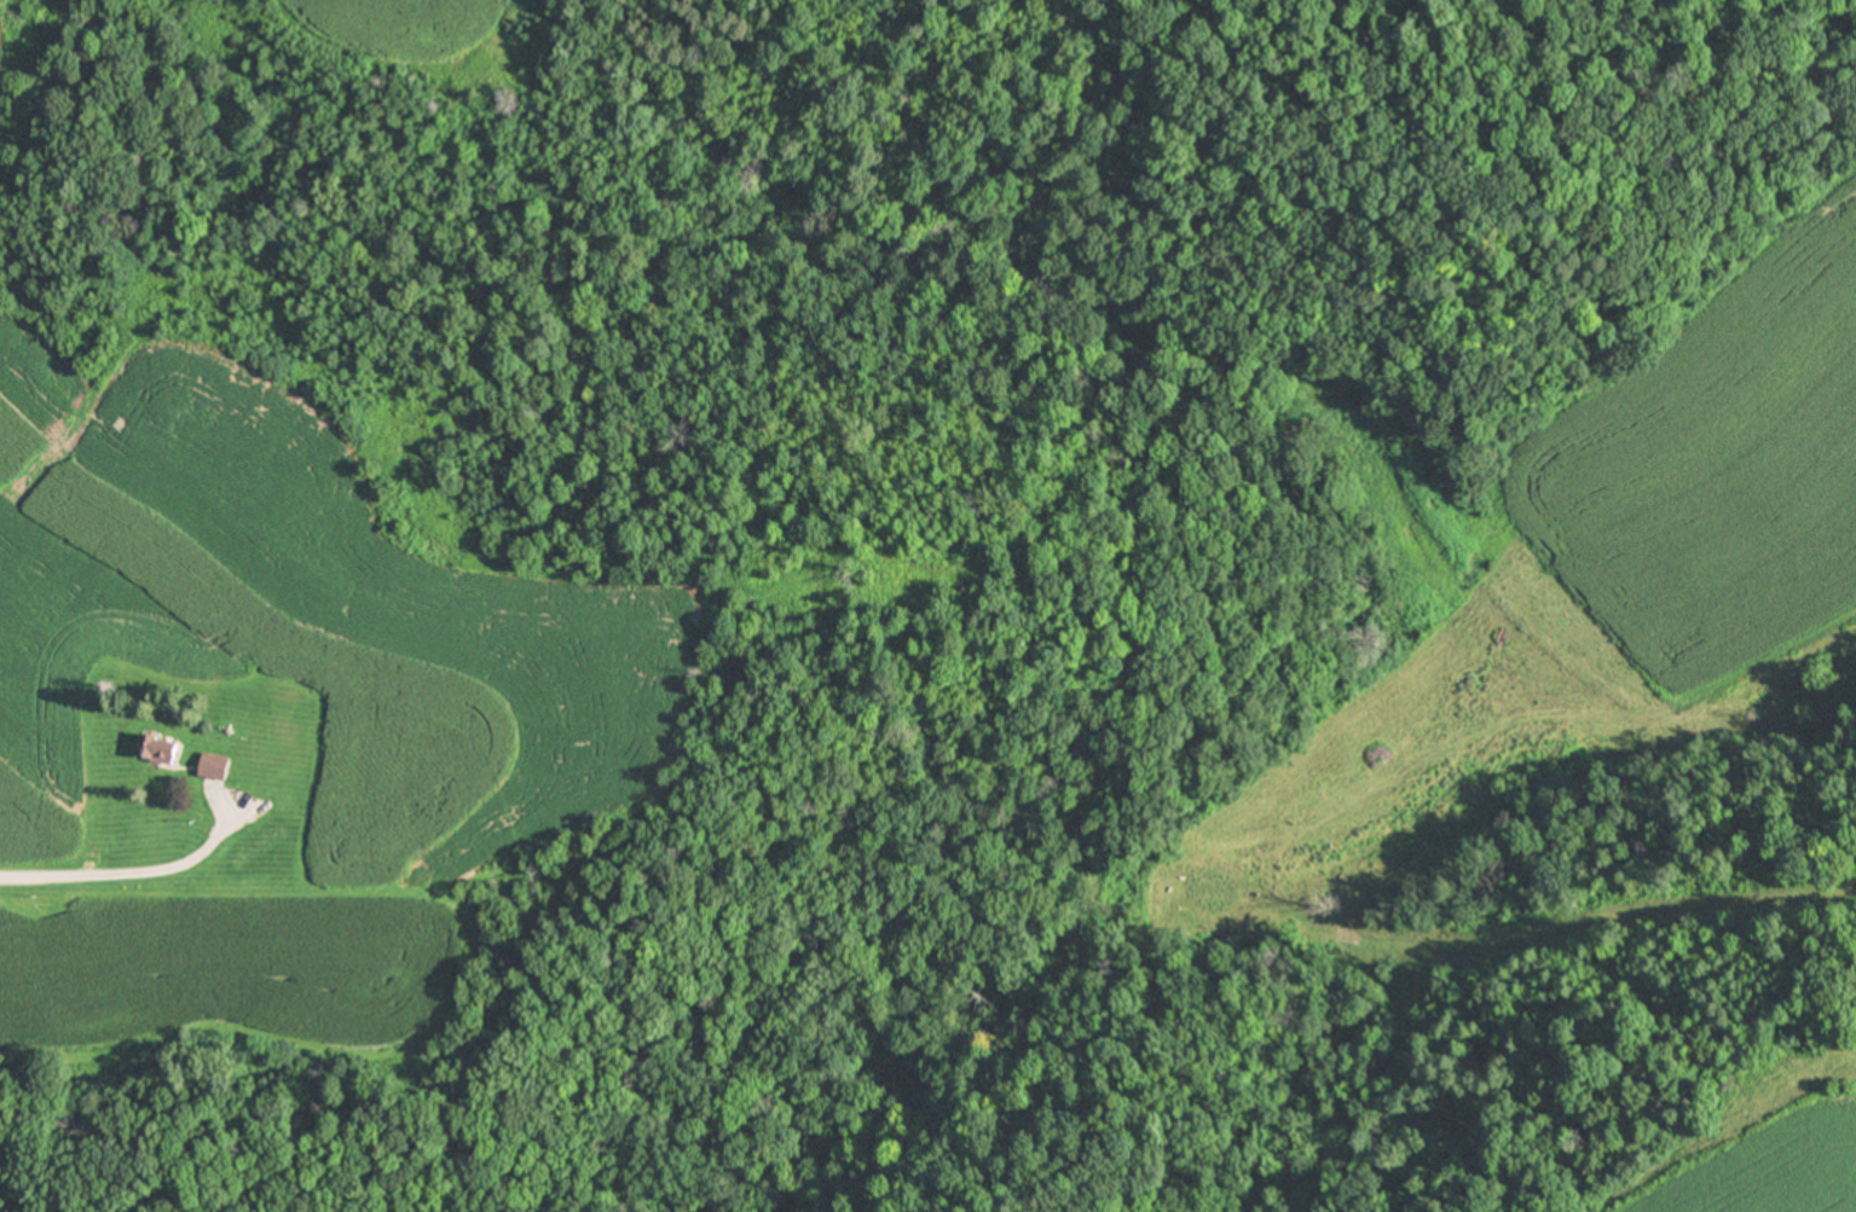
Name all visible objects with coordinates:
building: (161, 749)
building: (215, 766)
road: (121, 878)

